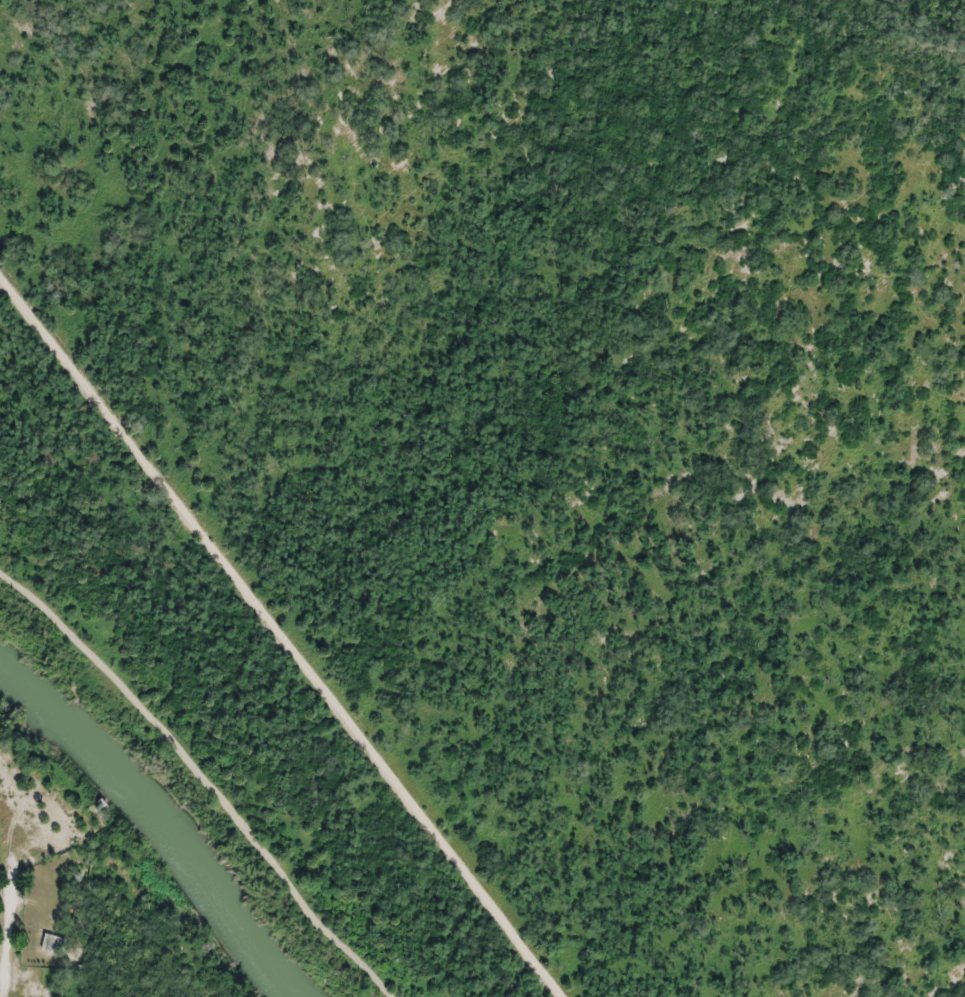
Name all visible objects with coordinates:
road: (279, 635)
road: (204, 775)
river: (159, 825)
road: (10, 935)

